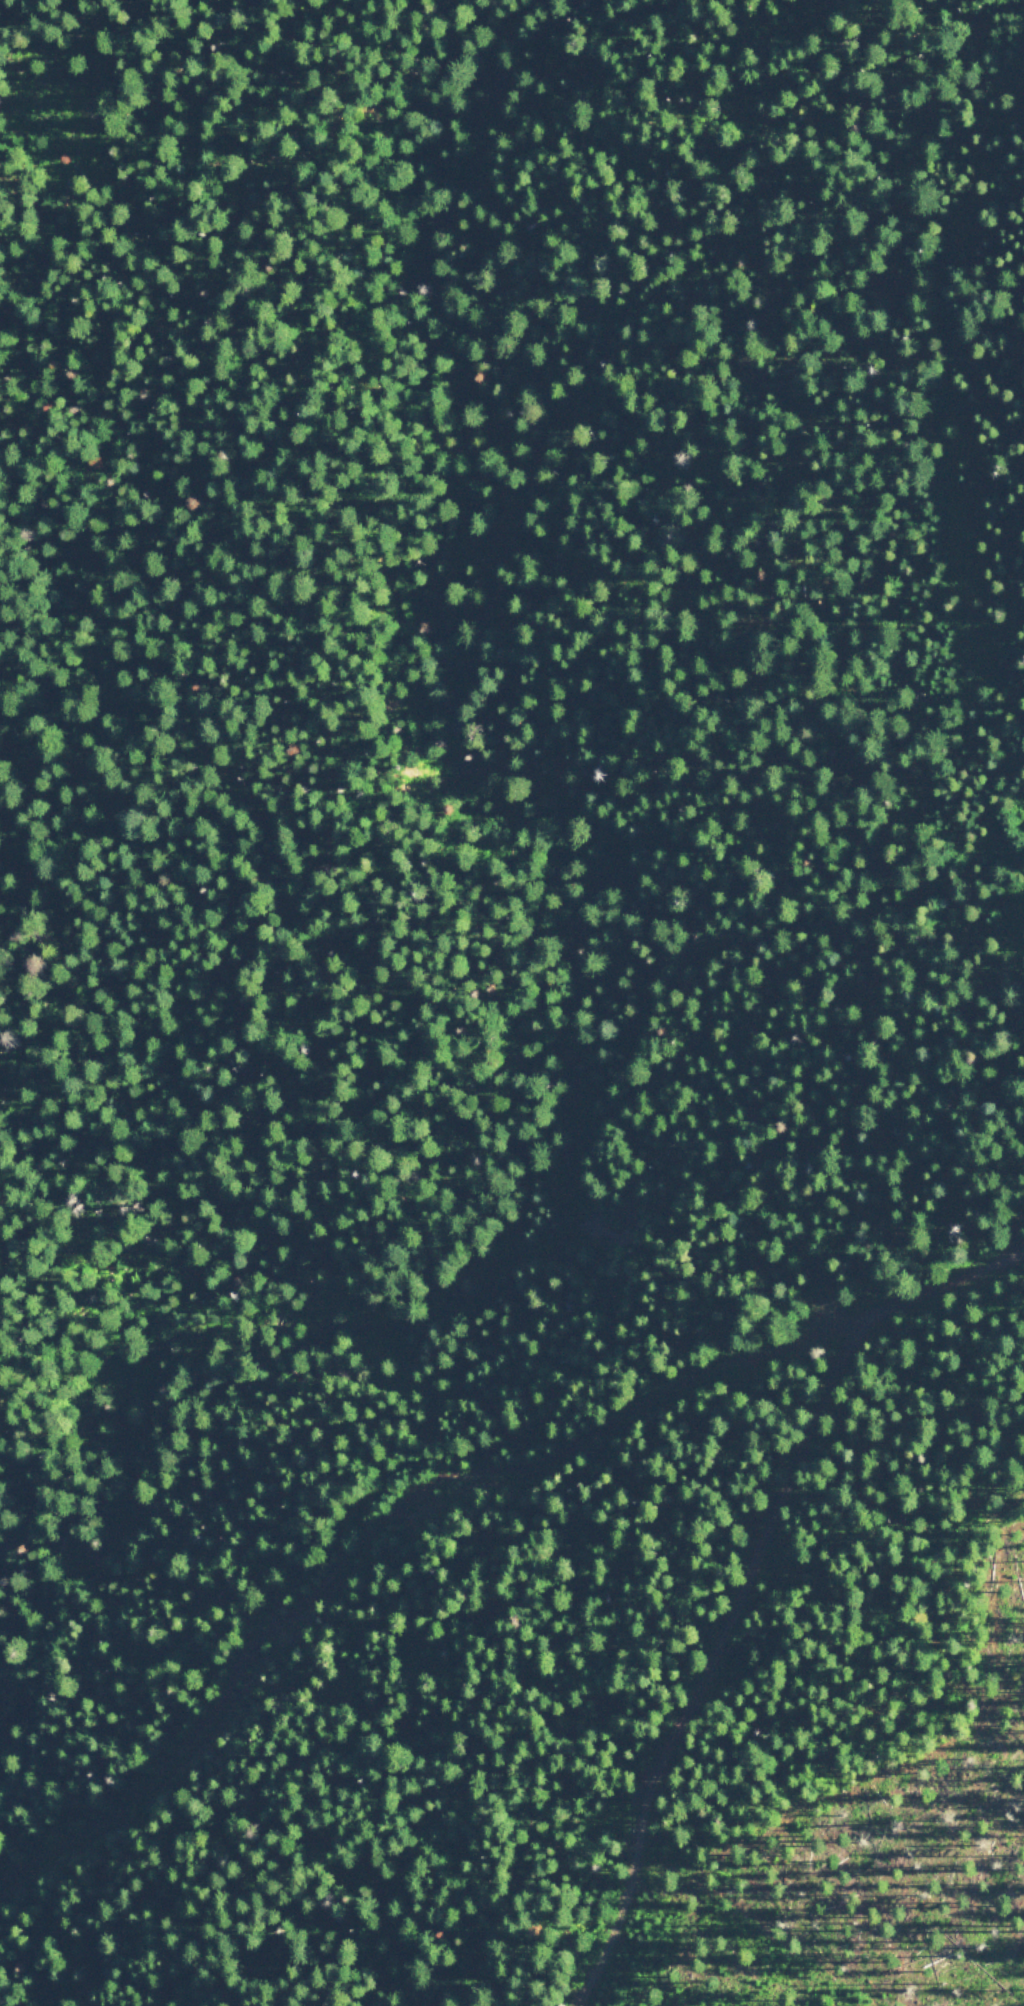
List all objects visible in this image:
road: (444, 1490)

